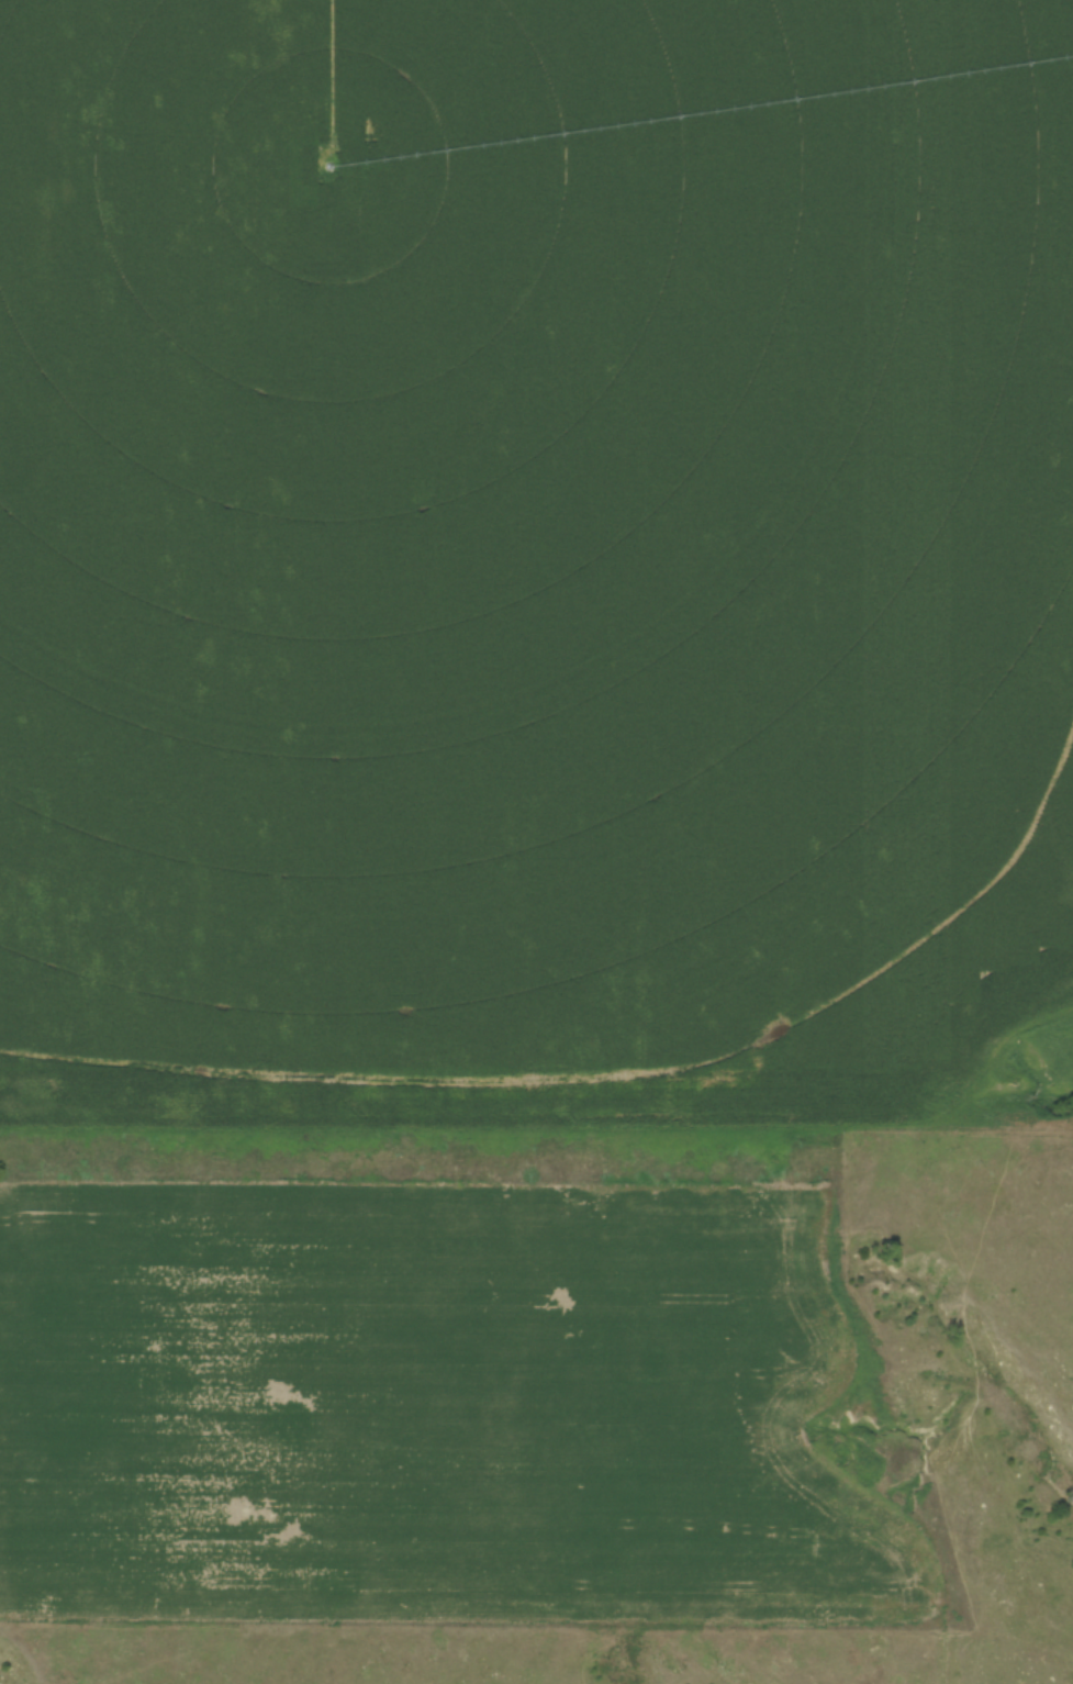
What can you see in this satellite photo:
crop: (434, 1409)

